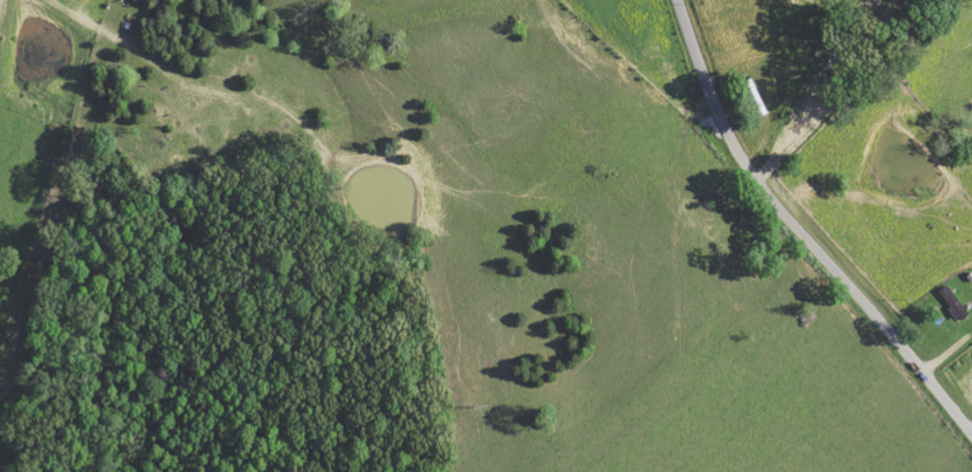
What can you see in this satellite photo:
road: (798, 233)
building: (954, 303)

